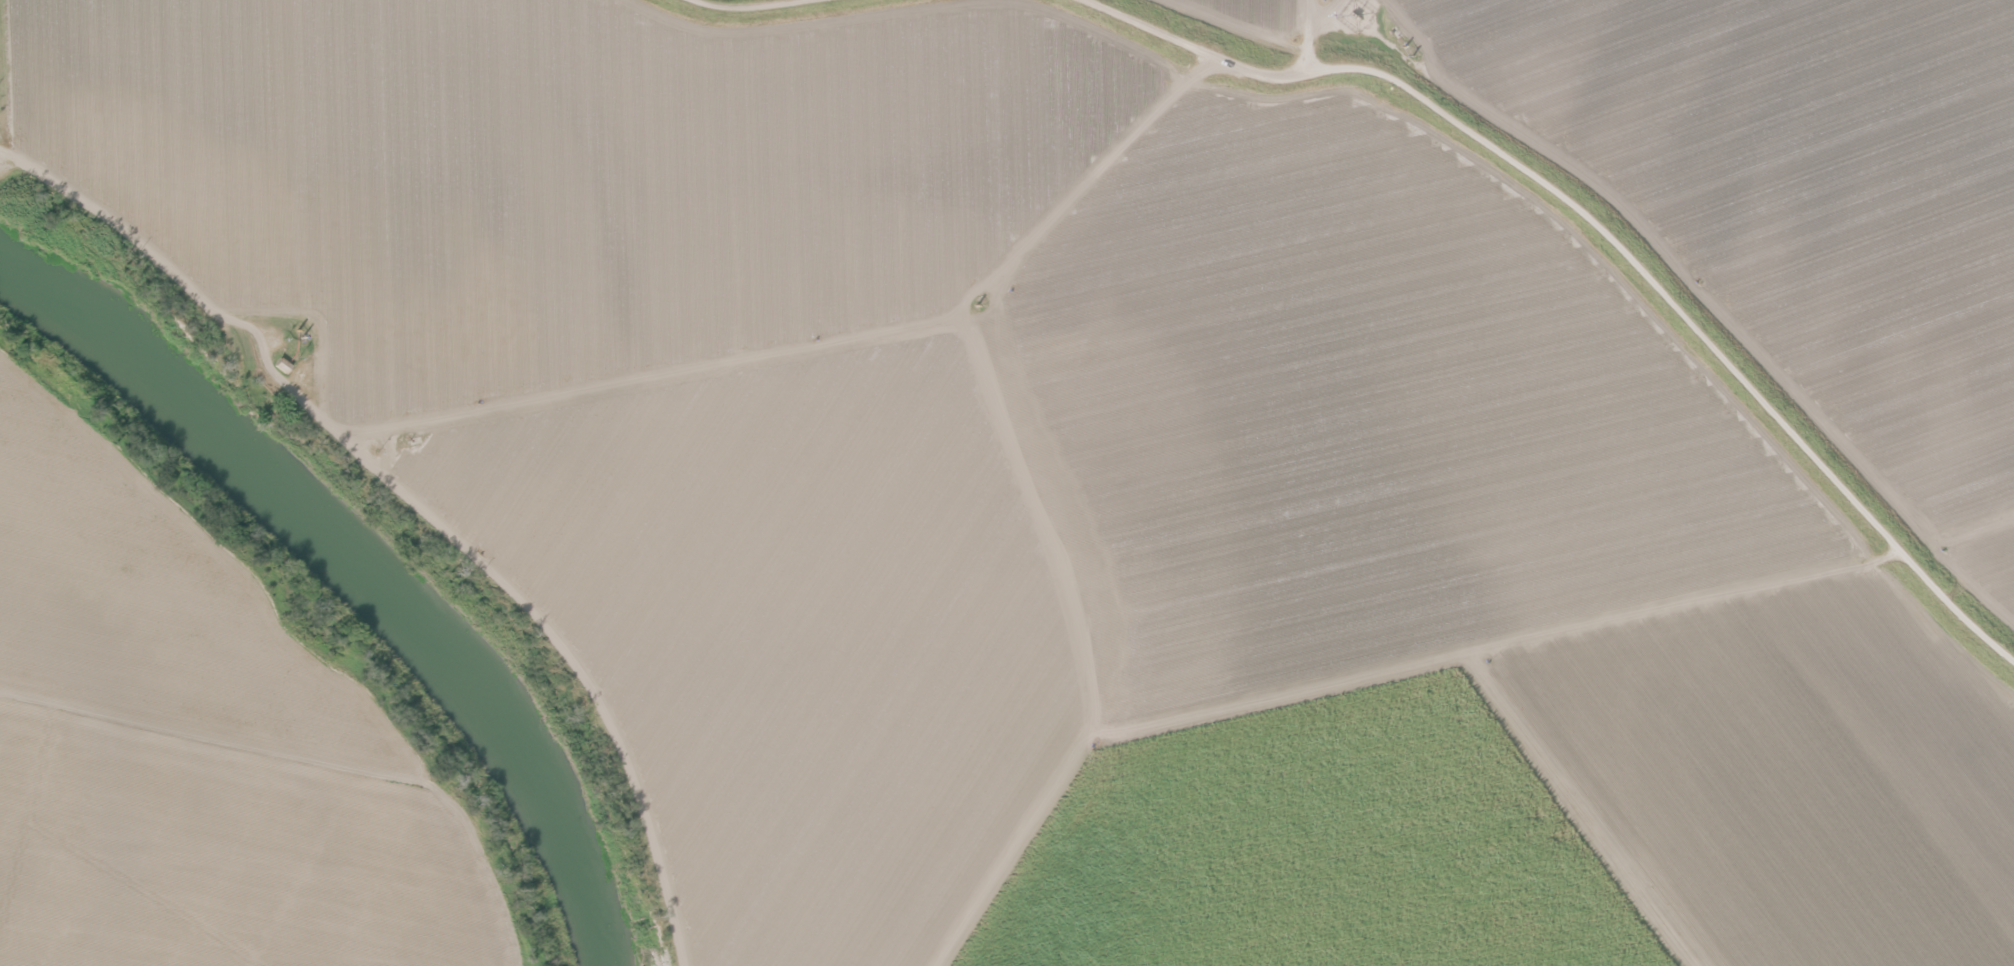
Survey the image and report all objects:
road: (741, 10)
road: (1337, 15)
road: (1308, 36)
road: (1600, 232)
road: (1663, 253)
road: (667, 379)
road: (1061, 491)
road: (409, 504)
road: (1972, 527)
river: (360, 567)
road: (1492, 649)
road: (1585, 810)

